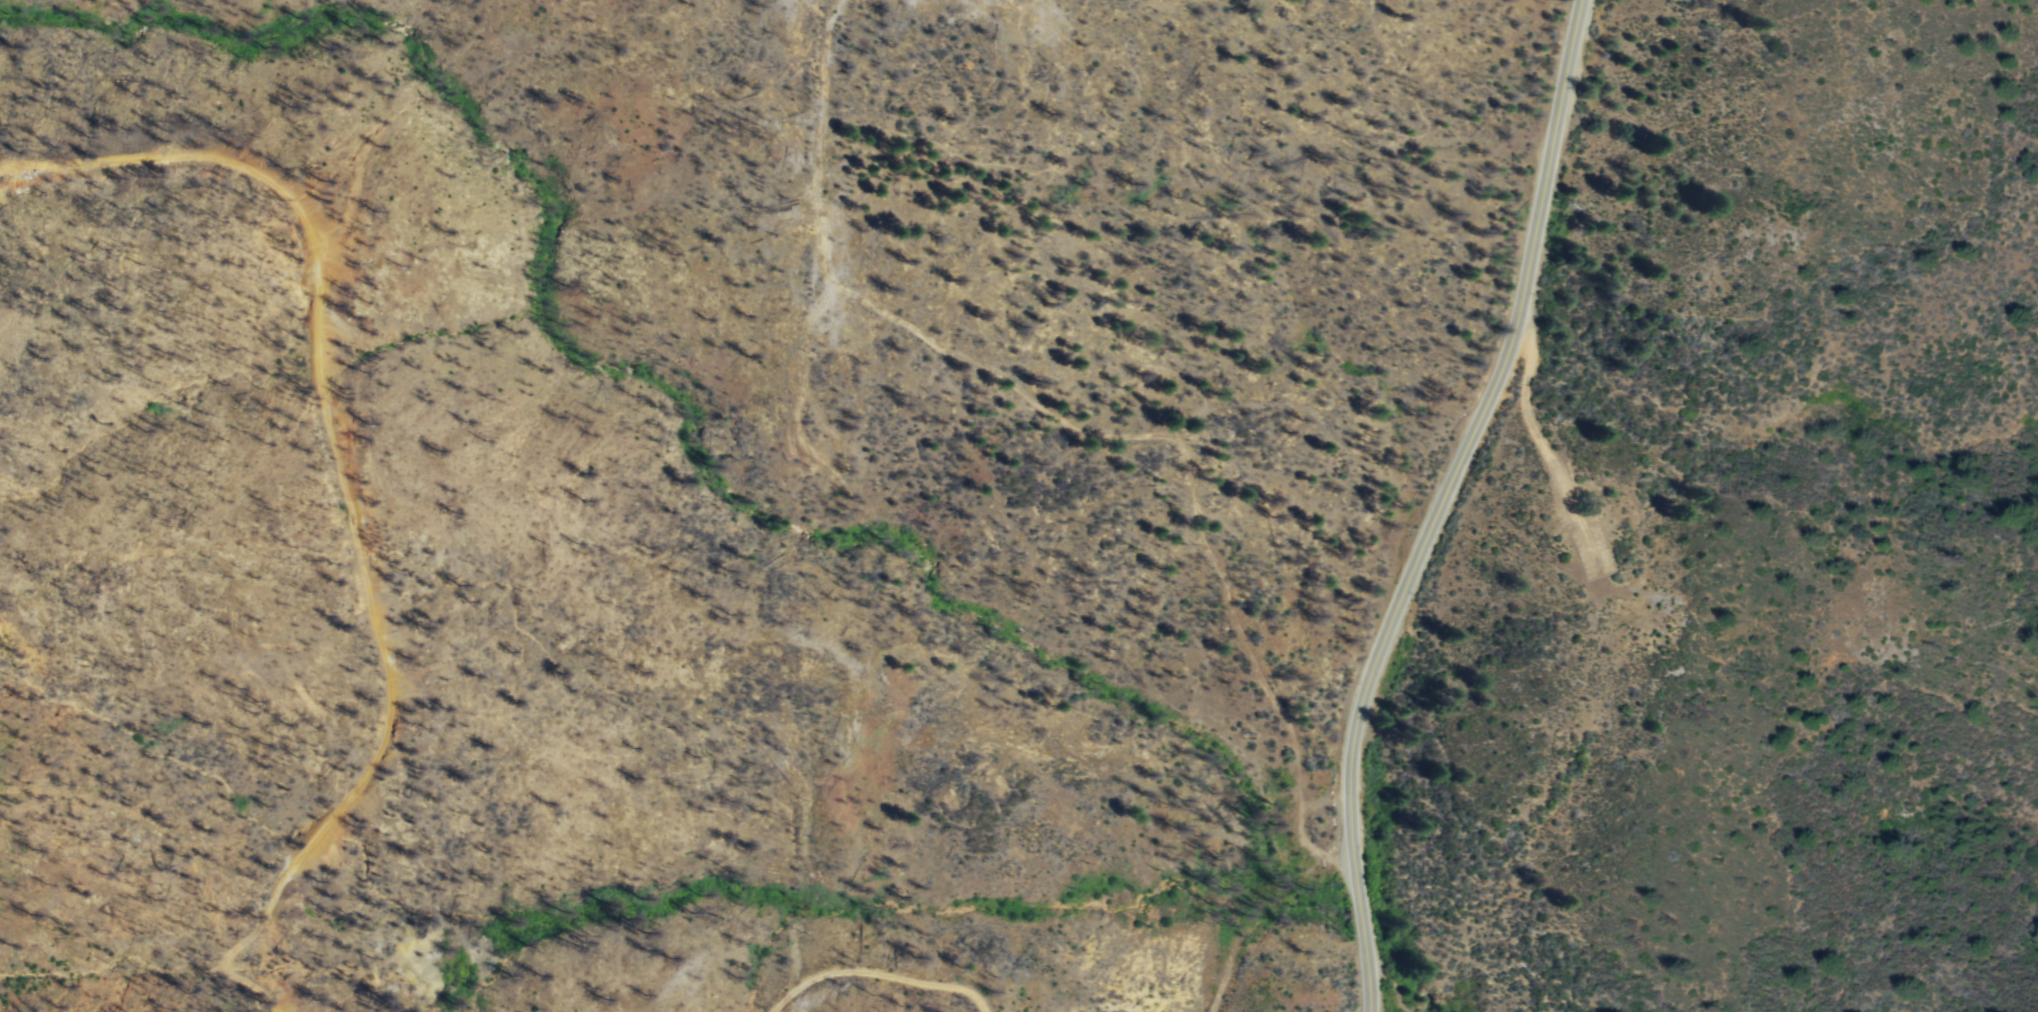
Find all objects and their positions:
road: (350, 489)
road: (1439, 503)
road: (878, 977)

